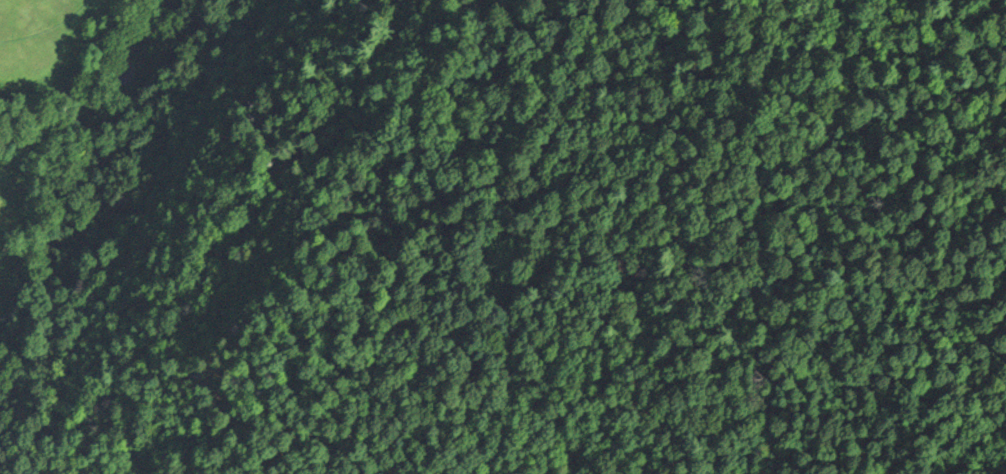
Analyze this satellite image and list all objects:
park: (34, 17)
park: (48, 43)

